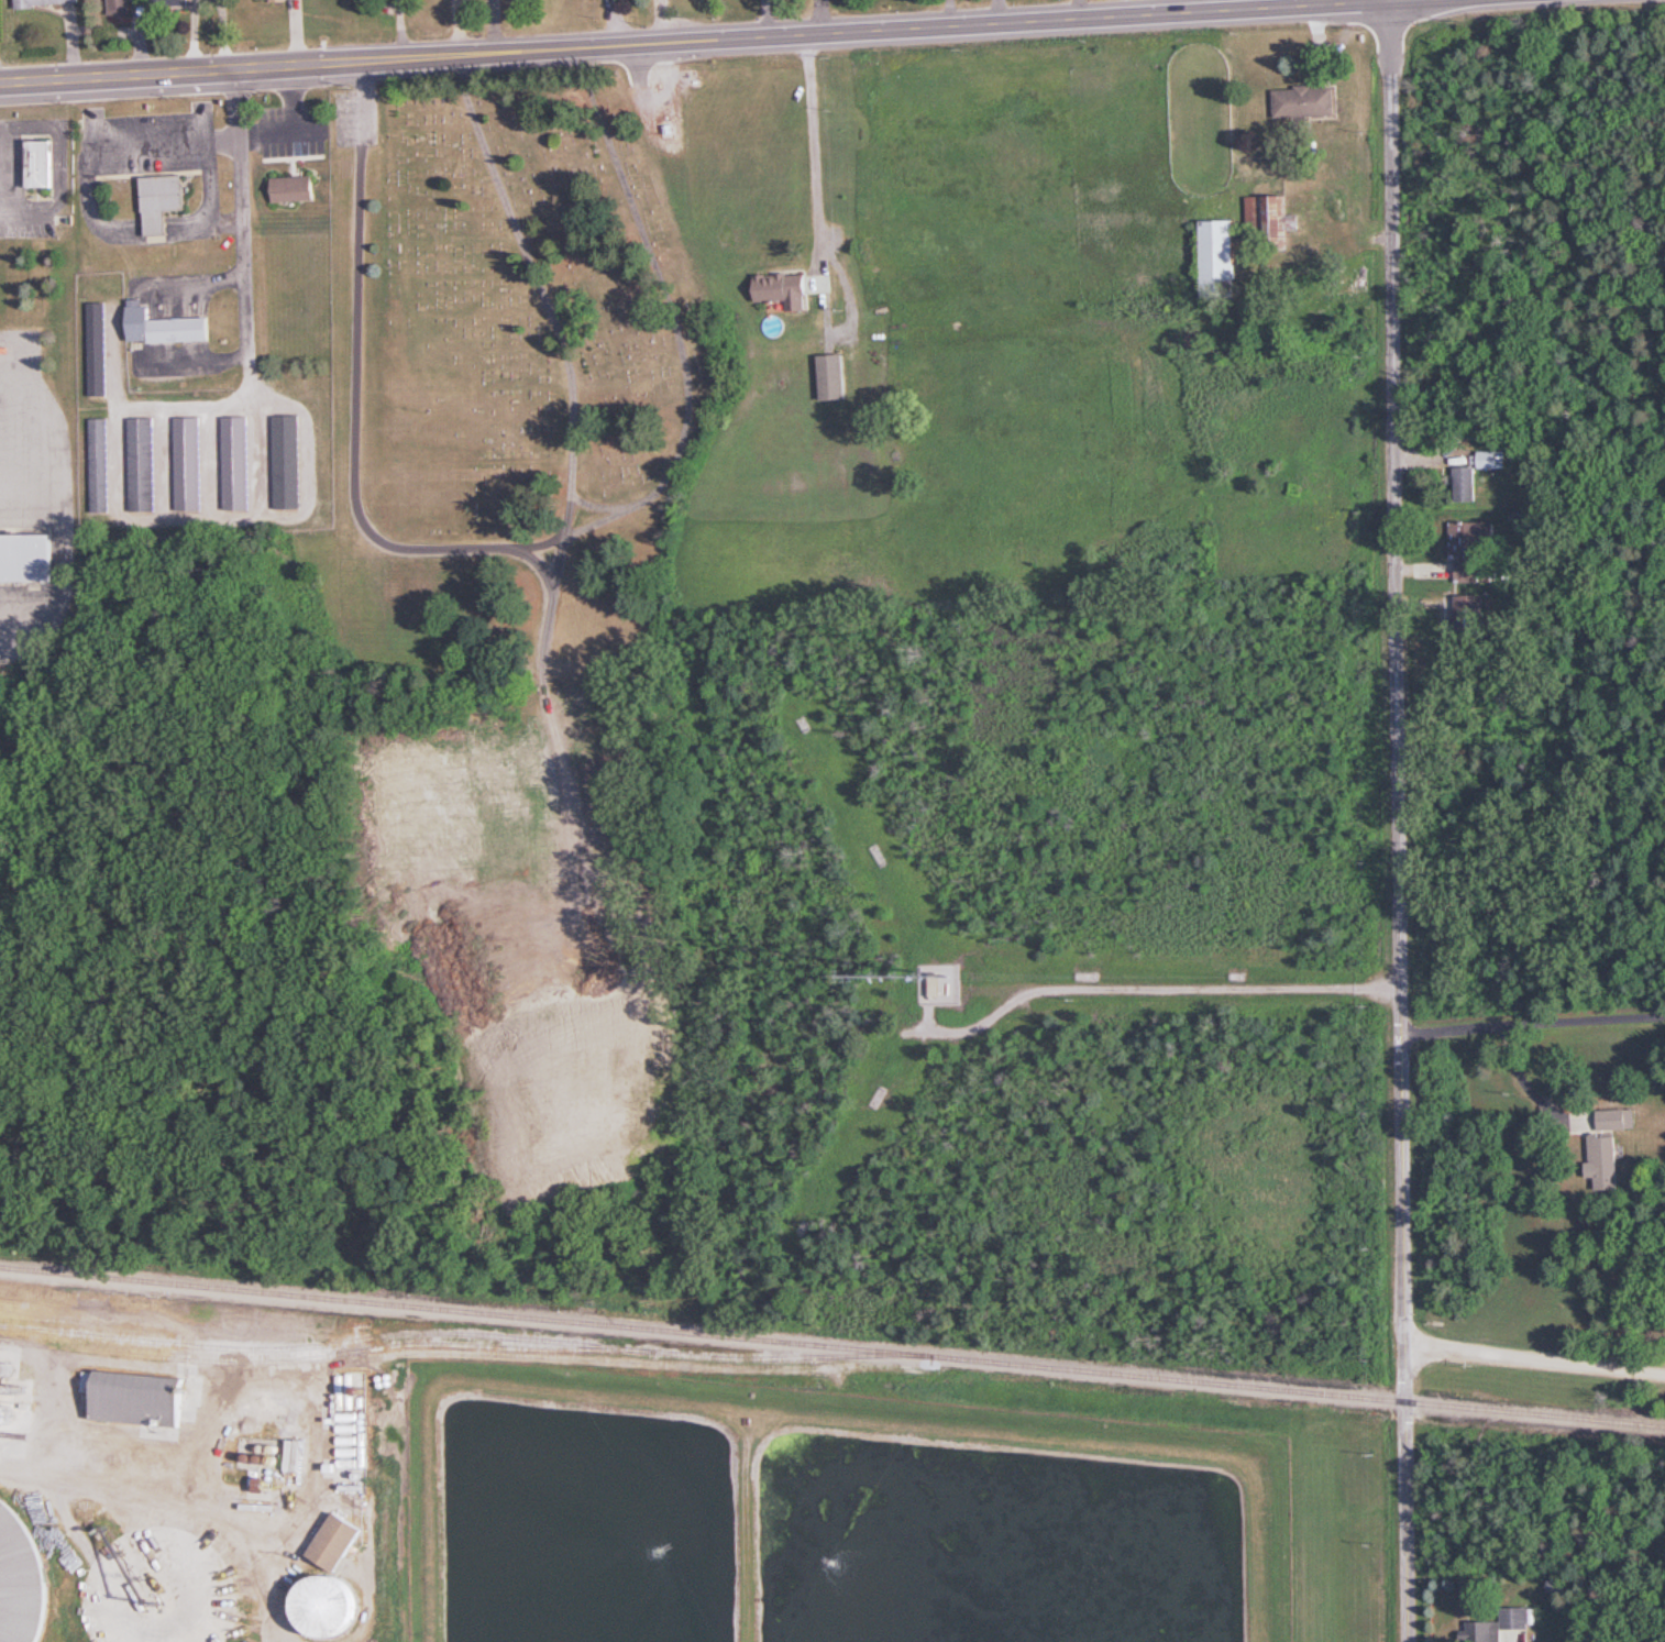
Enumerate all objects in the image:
building: (261, 0)
building: (180, 1)
building: (45, 2)
building: (123, 7)
road: (907, 30)
road: (196, 71)
building: (1306, 101)
road: (814, 139)
building: (42, 163)
building: (295, 188)
building: (163, 200)
building: (1283, 218)
building: (1221, 254)
building: (782, 290)
building: (166, 327)
building: (98, 349)
park: (531, 372)
building: (834, 377)
building: (1490, 459)
building: (236, 462)
building: (288, 462)
building: (142, 463)
building: (188, 463)
building: (99, 464)
building: (1466, 483)
building: (27, 555)
building: (1471, 571)
road: (1396, 822)
road: (1147, 989)
road: (1574, 1018)
road: (1502, 1039)
building: (1617, 1118)
building: (1609, 1162)
railway: (468, 1333)
railway: (833, 1344)
railway: (316, 1356)
road: (1533, 1359)
building: (137, 1396)
building: (334, 1576)
building: (23, 1577)
silo: (23, 1577)
building: (1502, 1627)

